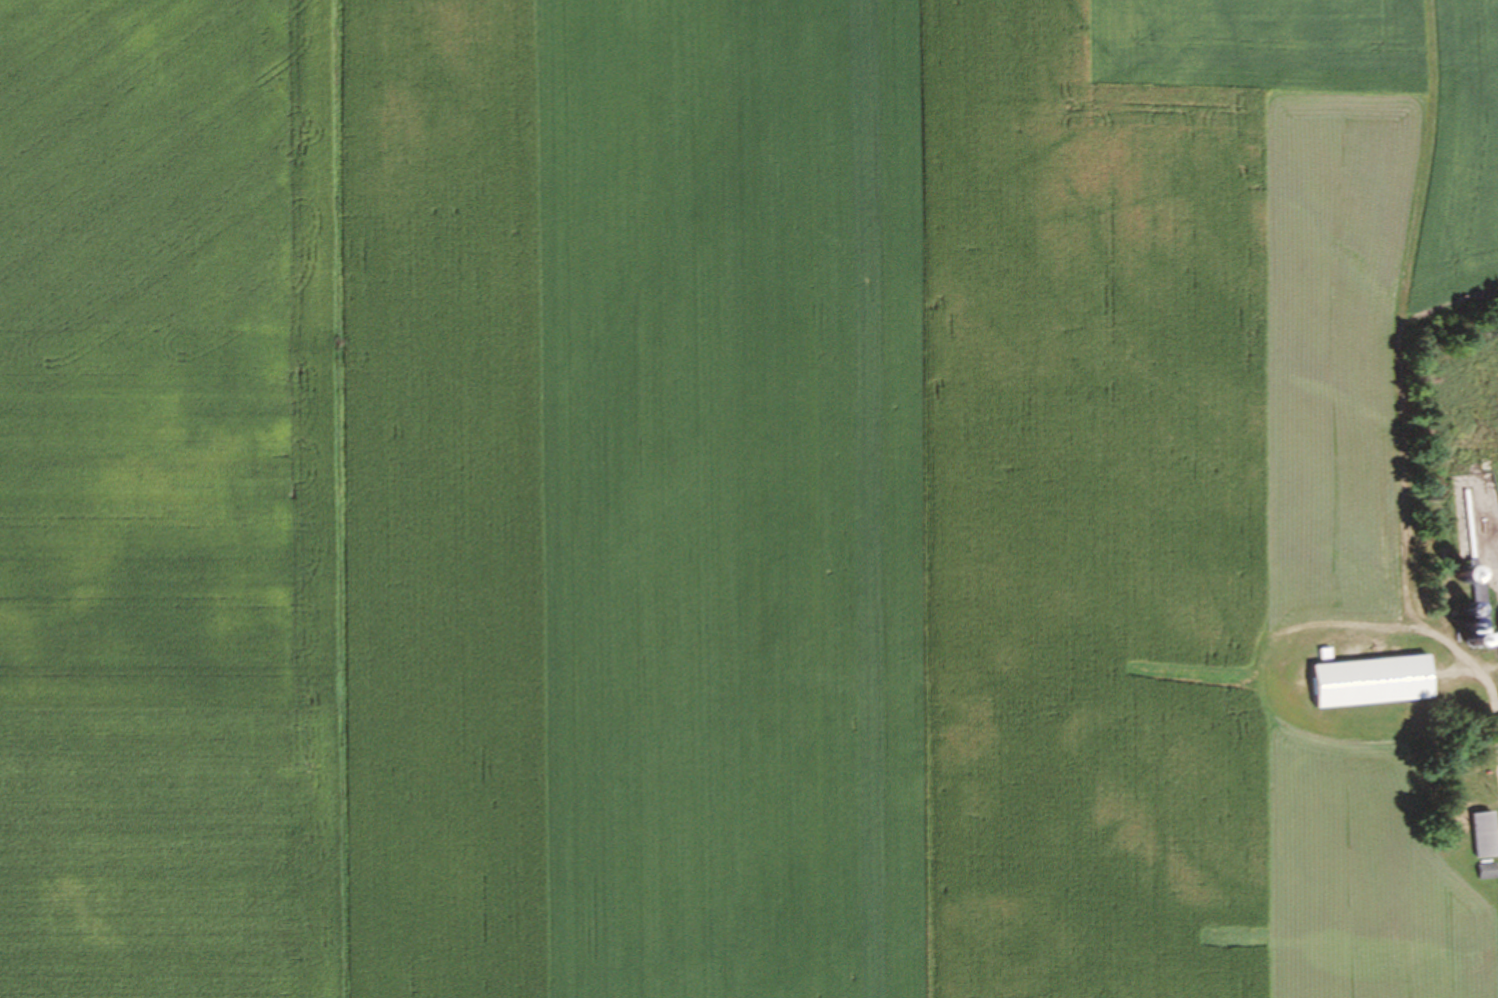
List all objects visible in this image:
building: (1446, 577)
building: (1497, 630)
building: (1363, 682)
building: (1477, 834)
building: (1483, 871)

